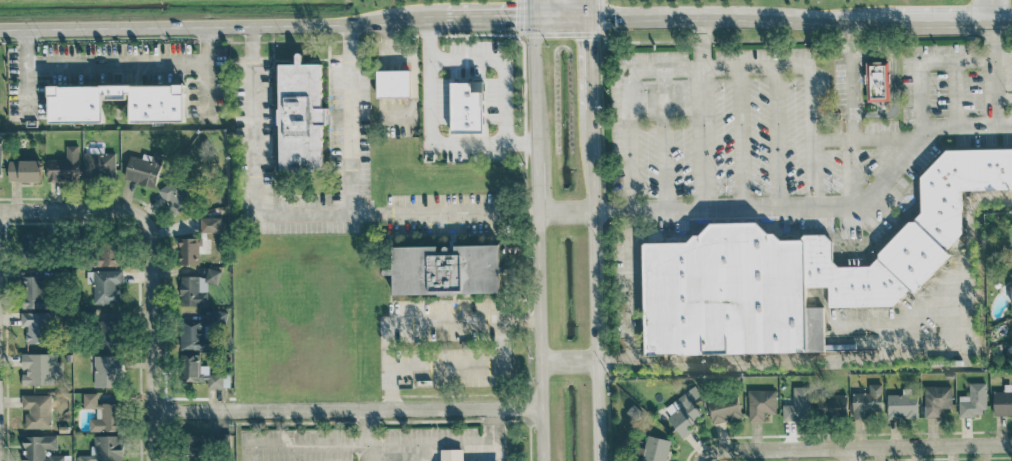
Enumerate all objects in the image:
road: (588, 11)
road: (993, 12)
road: (708, 21)
road: (485, 23)
traffic signals: (534, 23)
traffic signals: (588, 23)
road: (1003, 23)
road: (938, 24)
road: (217, 26)
road: (707, 47)
road: (134, 63)
road: (589, 64)
road: (27, 69)
road: (496, 72)
road: (722, 73)
road: (994, 76)
building: (877, 81)
building: (393, 82)
building: (478, 84)
road: (206, 89)
building: (466, 108)
building: (159, 109)
road: (851, 115)
building: (304, 118)
road: (348, 120)
road: (965, 127)
road: (428, 137)
road: (868, 139)
road: (708, 143)
building: (0, 157)
building: (99, 164)
building: (63, 166)
building: (143, 168)
building: (23, 170)
building: (178, 196)
road: (846, 207)
road: (69, 208)
road: (567, 211)
road: (301, 214)
building: (210, 224)
road: (539, 230)
building: (32, 245)
building: (189, 250)
building: (106, 253)
building: (450, 269)
building: (798, 270)
road: (596, 283)
building: (107, 286)
road: (632, 286)
building: (1011, 286)
building: (197, 287)
building: (34, 291)
road: (504, 320)
road: (899, 323)
building: (36, 327)
road: (522, 328)
building: (109, 333)
road: (148, 335)
building: (194, 335)
road: (569, 358)
road: (821, 360)
building: (191, 363)
building: (38, 368)
building: (108, 371)
road: (389, 388)
building: (937, 399)
building: (973, 400)
building: (868, 401)
building: (761, 404)
building: (798, 405)
building: (832, 405)
building: (902, 406)
building: (724, 407)
road: (345, 408)
building: (37, 410)
building: (102, 413)
building: (683, 413)
road: (367, 434)
road: (388, 443)
building: (197, 447)
road: (855, 447)
building: (40, 448)
building: (654, 448)
building: (106, 449)
road: (245, 453)
building: (452, 454)
road: (850, 454)

